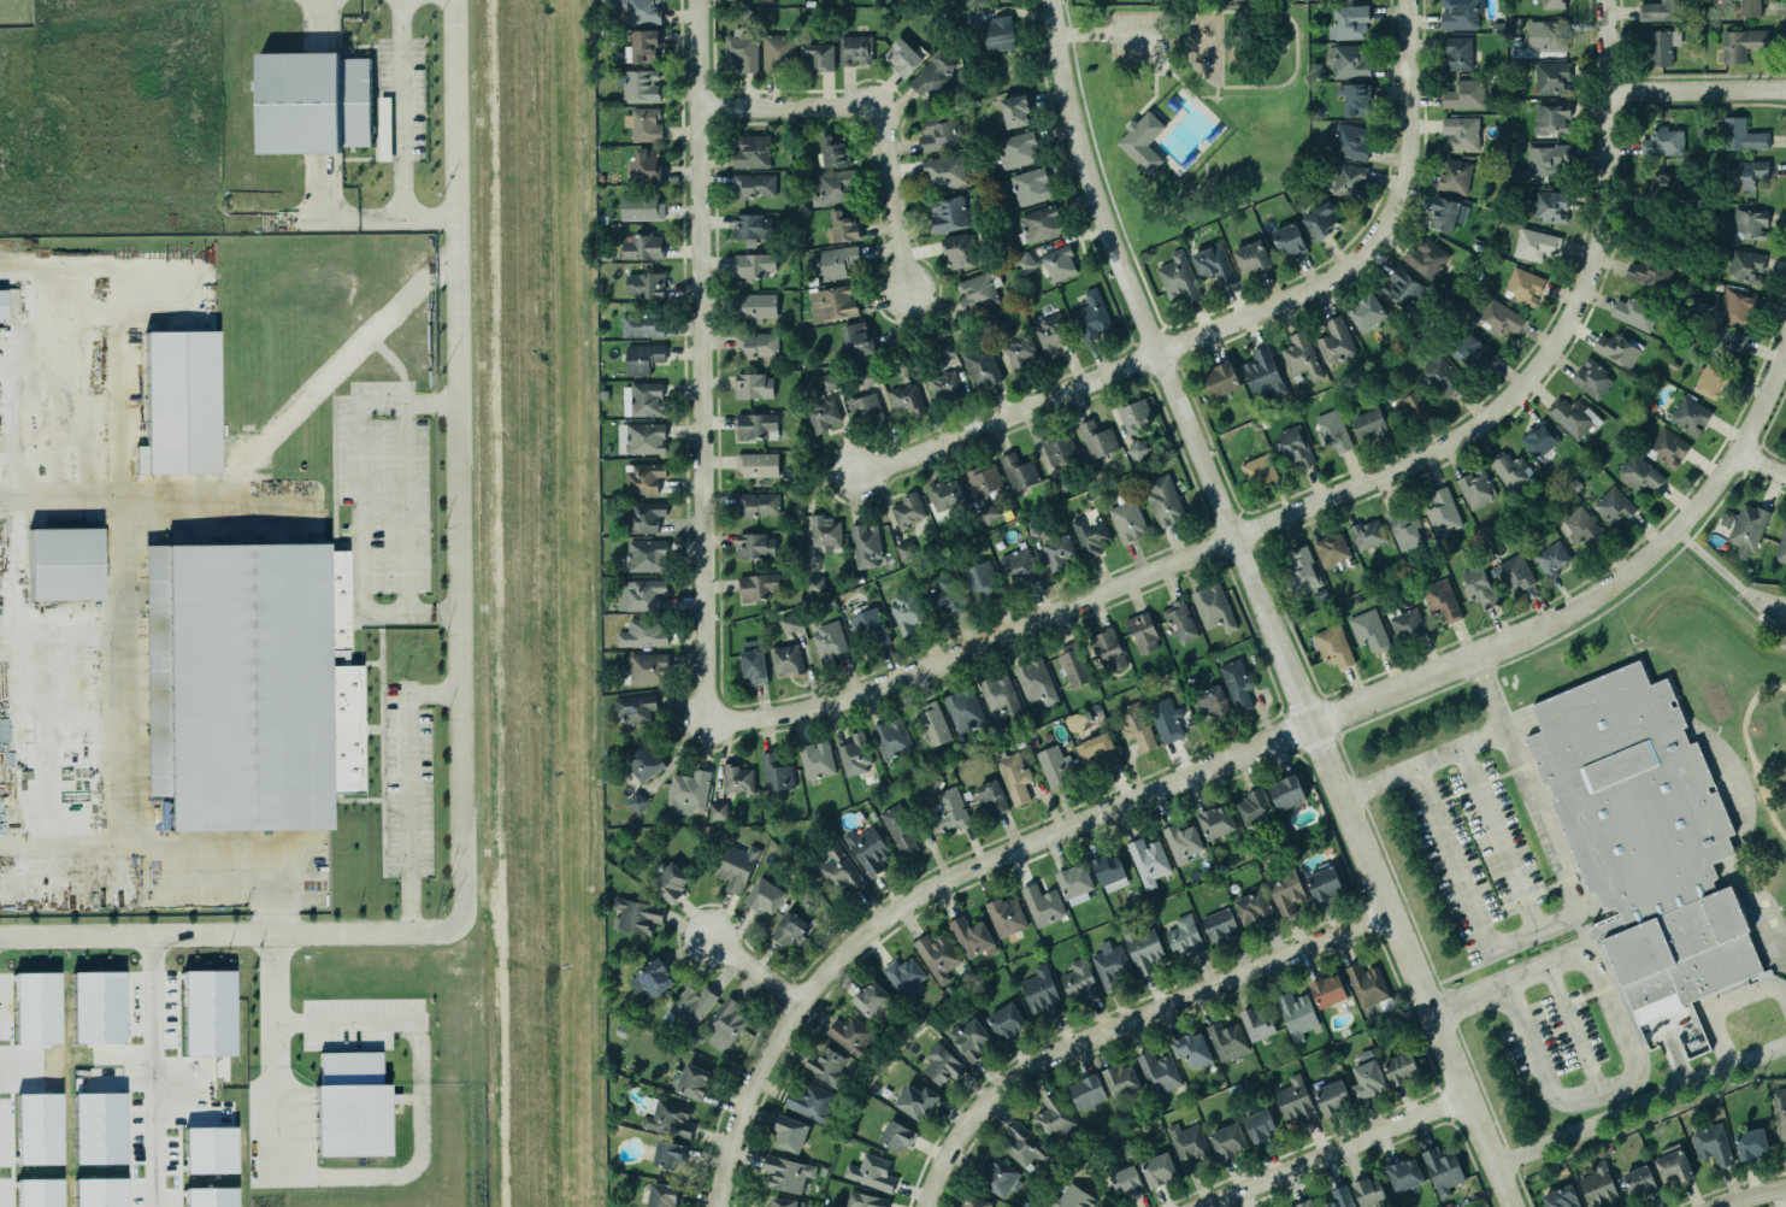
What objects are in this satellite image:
building: (729, 0)
building: (1554, 4)
building: (1752, 7)
building: (641, 11)
building: (1663, 11)
road: (1066, 12)
road: (1195, 12)
building: (1460, 13)
building: (1349, 20)
parking lot: (1139, 30)
road: (1108, 31)
building: (998, 33)
road: (1071, 33)
building: (1546, 35)
road: (1178, 37)
building: (1741, 45)
building: (1658, 46)
building: (643, 47)
road: (1221, 47)
road: (1295, 47)
building: (741, 51)
building: (855, 51)
building: (778, 52)
building: (1456, 52)
building: (818, 57)
building: (903, 57)
road: (1133, 57)
road: (1160, 57)
building: (1350, 60)
road: (1166, 61)
road: (1155, 64)
road: (1193, 65)
road: (1166, 67)
road: (1165, 69)
road: (1159, 71)
road: (1173, 73)
building: (935, 76)
building: (1552, 78)
road: (1155, 82)
road: (1219, 84)
building: (641, 86)
road: (1186, 87)
road: (1215, 89)
road: (1694, 90)
building: (1464, 93)
road: (1204, 95)
building: (1354, 95)
building: (313, 100)
road: (1140, 107)
park: (1189, 107)
building: (1015, 111)
road: (882, 116)
building: (1551, 116)
building: (644, 122)
building: (1461, 133)
building: (939, 134)
building: (1741, 134)
building: (383, 137)
building: (1351, 140)
road: (393, 141)
building: (1142, 141)
building: (1663, 142)
building: (835, 149)
building: (1018, 149)
building: (750, 152)
building: (1546, 159)
building: (644, 165)
building: (943, 171)
building: (1745, 173)
building: (1454, 176)
building: (1348, 178)
building: (754, 184)
road: (1107, 184)
building: (833, 187)
building: (1030, 187)
building: (1663, 187)
building: (641, 206)
building: (1550, 206)
building: (948, 213)
building: (1444, 213)
road: (336, 220)
building: (1321, 220)
building: (1041, 223)
building: (1750, 223)
building: (751, 226)
building: (842, 226)
building: (1289, 240)
building: (639, 245)
building: (1536, 245)
building: (957, 251)
building: (1251, 258)
building: (1427, 258)
building: (836, 260)
building: (1049, 263)
building: (1213, 264)
building: (754, 265)
building: (1745, 265)
building: (1649, 272)
building: (1178, 278)
building: (644, 283)
building: (1523, 284)
building: (1403, 289)
building: (977, 290)
building: (832, 302)
building: (2, 304)
building: (755, 305)
building: (1735, 307)
building: (1368, 311)
building: (1637, 312)
building: (1092, 317)
building: (1501, 318)
road: (1233, 319)
building: (643, 325)
building: (1000, 326)
road: (1161, 326)
building: (1051, 334)
building: (856, 341)
building: (1336, 342)
building: (1726, 342)
building: (759, 346)
building: (1616, 348)
building: (941, 351)
building: (1472, 351)
building: (1020, 352)
building: (642, 357)
building: (1301, 357)
road: (708, 359)
building: (982, 365)
building: (901, 366)
building: (1263, 372)
building: (1443, 373)
building: (867, 377)
building: (1221, 379)
building: (1592, 379)
building: (1710, 381)
building: (827, 382)
building: (753, 384)
building: (945, 385)
building: (639, 399)
building: (907, 399)
building: (1411, 402)
building: (179, 405)
road: (294, 410)
building: (865, 410)
building: (823, 413)
building: (1690, 413)
building: (1134, 416)
building: (1570, 416)
building: (756, 424)
building: (1371, 425)
building: (1333, 431)
building: (642, 438)
building: (1539, 438)
building: (1097, 440)
building: (1296, 446)
building: (1669, 447)
building: (1060, 449)
building: (1136, 449)
road: (1764, 460)
building: (756, 463)
building: (1259, 470)
building: (1510, 470)
building: (1018, 471)
building: (1639, 473)
building: (642, 477)
building: (983, 478)
building: (1475, 488)
building: (945, 494)
building: (1163, 500)
road: (1318, 500)
building: (758, 504)
building: (1611, 505)
road: (405, 506)
building: (908, 510)
building: (1443, 511)
building: (986, 512)
building: (643, 516)
building: (1127, 516)
building: (1403, 526)
building: (1581, 528)
building: (1747, 529)
building: (826, 532)
building: (1366, 532)
building: (1090, 534)
building: (754, 544)
building: (865, 546)
building: (1781, 547)
building: (904, 548)
building: (1331, 549)
building: (1057, 552)
building: (646, 555)
building: (1552, 557)
building: (64, 565)
building: (1019, 565)
building: (1303, 569)
building: (1513, 572)
road: (1722, 572)
building: (982, 581)
building: (756, 585)
building: (814, 585)
building: (1479, 587)
building: (639, 594)
building: (945, 595)
building: (1442, 601)
building: (1213, 607)
road: (1268, 608)
building: (906, 611)
road: (120, 614)
building: (1180, 622)
building: (789, 623)
building: (1407, 624)
building: (871, 629)
building: (1369, 630)
building: (1142, 632)
building: (643, 634)
building: (830, 638)
building: (1333, 647)
building: (1109, 649)
building: (785, 660)
building: (754, 664)
building: (1073, 664)
building: (646, 667)
building: (250, 676)
building: (1035, 679)
building: (1236, 685)
road: (459, 691)
building: (1001, 700)
building: (1210, 705)
building: (635, 707)
building: (963, 710)
road: (1326, 719)
building: (932, 722)
building: (1166, 722)
building: (1136, 729)
building: (891, 737)
road: (1456, 749)
building: (1101, 752)
building: (855, 753)
building: (817, 760)
building: (644, 761)
building: (1054, 766)
building: (776, 771)
building: (1014, 776)
building: (738, 777)
road: (1419, 777)
road: (1379, 781)
road: (407, 788)
building: (688, 790)
building: (1286, 791)
building: (991, 797)
building: (636, 802)
building: (1255, 806)
building: (718, 811)
building: (950, 811)
building: (1216, 820)
building: (898, 830)
road: (1497, 837)
building: (1646, 837)
building: (1181, 841)
road: (178, 844)
building: (867, 849)
building: (1149, 862)
building: (736, 865)
building: (841, 872)
building: (1110, 872)
building: (670, 882)
building: (1074, 883)
building: (1325, 883)
building: (1284, 885)
building: (765, 895)
road: (1570, 902)
building: (1042, 903)
building: (1254, 906)
building: (636, 915)
building: (1006, 917)
building: (1220, 926)
building: (790, 930)
building: (971, 936)
building: (1185, 936)
building: (1143, 947)
building: (937, 954)
road: (745, 962)
building: (1110, 964)
building: (904, 977)
building: (652, 979)
building: (1080, 981)
building: (1367, 983)
building: (1042, 988)
building: (1328, 990)
building: (872, 999)
road: (1725, 1002)
building: (691, 1005)
building: (96, 1007)
building: (36, 1008)
building: (208, 1012)
building: (1296, 1015)
building: (1007, 1021)
road: (1128, 1021)
building: (1257, 1023)
building: (726, 1024)
building: (851, 1035)
building: (969, 1038)
building: (1226, 1038)
road: (1620, 1038)
building: (1192, 1050)
road: (765, 1053)
road: (1757, 1053)
road: (1673, 1058)
building: (943, 1065)
building: (826, 1066)
building: (1398, 1068)
road: (153, 1071)
building: (1159, 1072)
building: (1121, 1078)
building: (694, 1081)
building: (1364, 1082)
building: (1087, 1091)
building: (1331, 1099)
building: (916, 1101)
building: (812, 1102)
building: (1296, 1102)
building: (350, 1106)
building: (1779, 1112)
road: (1614, 1113)
building: (1054, 1117)
building: (668, 1118)
building: (1259, 1126)
building: (37, 1129)
building: (99, 1129)
building: (790, 1134)
building: (895, 1137)
building: (1750, 1141)
building: (1710, 1142)
building: (1225, 1143)
building: (1025, 1146)
building: (1187, 1148)
road: (1337, 1149)
building: (210, 1150)
building: (668, 1154)
road: (724, 1158)
building: (1672, 1165)
building: (1443, 1168)
building: (788, 1172)
building: (1156, 1172)
building: (872, 1174)
building: (1404, 1174)
building: (997, 1176)
road: (366, 1177)
building: (1639, 1178)
building: (1126, 1183)
building: (1599, 1188)
building: (1369, 1191)
building: (39, 1193)
building: (99, 1193)
building: (661, 1193)
road: (1749, 1193)
building: (210, 1197)
building: (1339, 1197)
building: (1561, 1197)
building: (1069, 1199)
building: (865, 1201)
building: (784, 1202)
building: (974, 1202)
building: (1305, 1202)

